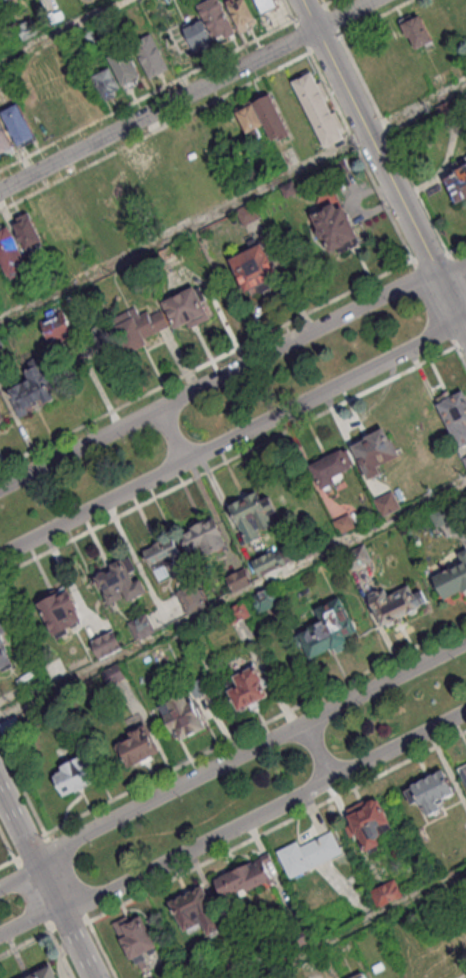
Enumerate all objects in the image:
building: (265, 4)
building: (242, 13)
building: (218, 17)
building: (25, 29)
building: (416, 29)
road: (62, 32)
building: (198, 33)
building: (86, 35)
building: (177, 47)
building: (150, 54)
building: (125, 66)
building: (106, 83)
road: (185, 94)
building: (63, 106)
building: (318, 108)
building: (40, 113)
building: (249, 117)
building: (270, 117)
building: (18, 123)
building: (4, 139)
building: (339, 166)
road: (382, 167)
building: (146, 176)
building: (119, 181)
building: (457, 185)
building: (289, 188)
road: (233, 204)
building: (246, 213)
building: (49, 217)
building: (333, 223)
building: (26, 232)
building: (10, 252)
building: (254, 267)
building: (187, 305)
building: (55, 326)
building: (131, 329)
road: (230, 369)
building: (31, 390)
building: (454, 413)
building: (1, 416)
road: (172, 434)
road: (234, 436)
building: (374, 450)
building: (464, 457)
building: (332, 466)
building: (386, 503)
building: (253, 514)
building: (440, 515)
building: (344, 523)
building: (204, 538)
building: (357, 554)
building: (163, 556)
building: (271, 560)
building: (452, 577)
building: (120, 579)
building: (239, 579)
building: (191, 596)
building: (264, 598)
road: (233, 600)
building: (394, 602)
building: (61, 612)
building: (237, 612)
building: (140, 625)
building: (328, 628)
building: (106, 643)
building: (4, 647)
building: (113, 672)
building: (249, 687)
building: (184, 709)
building: (137, 745)
road: (248, 749)
road: (317, 750)
building: (462, 773)
building: (73, 777)
building: (430, 790)
road: (262, 812)
building: (367, 822)
road: (19, 831)
road: (7, 845)
building: (307, 853)
road: (7, 863)
building: (244, 876)
road: (19, 878)
road: (47, 887)
building: (386, 892)
building: (196, 908)
road: (28, 918)
building: (392, 922)
road: (360, 925)
building: (134, 937)
building: (300, 937)
road: (73, 941)
road: (25, 944)
building: (420, 963)
building: (44, 972)
building: (360, 975)

